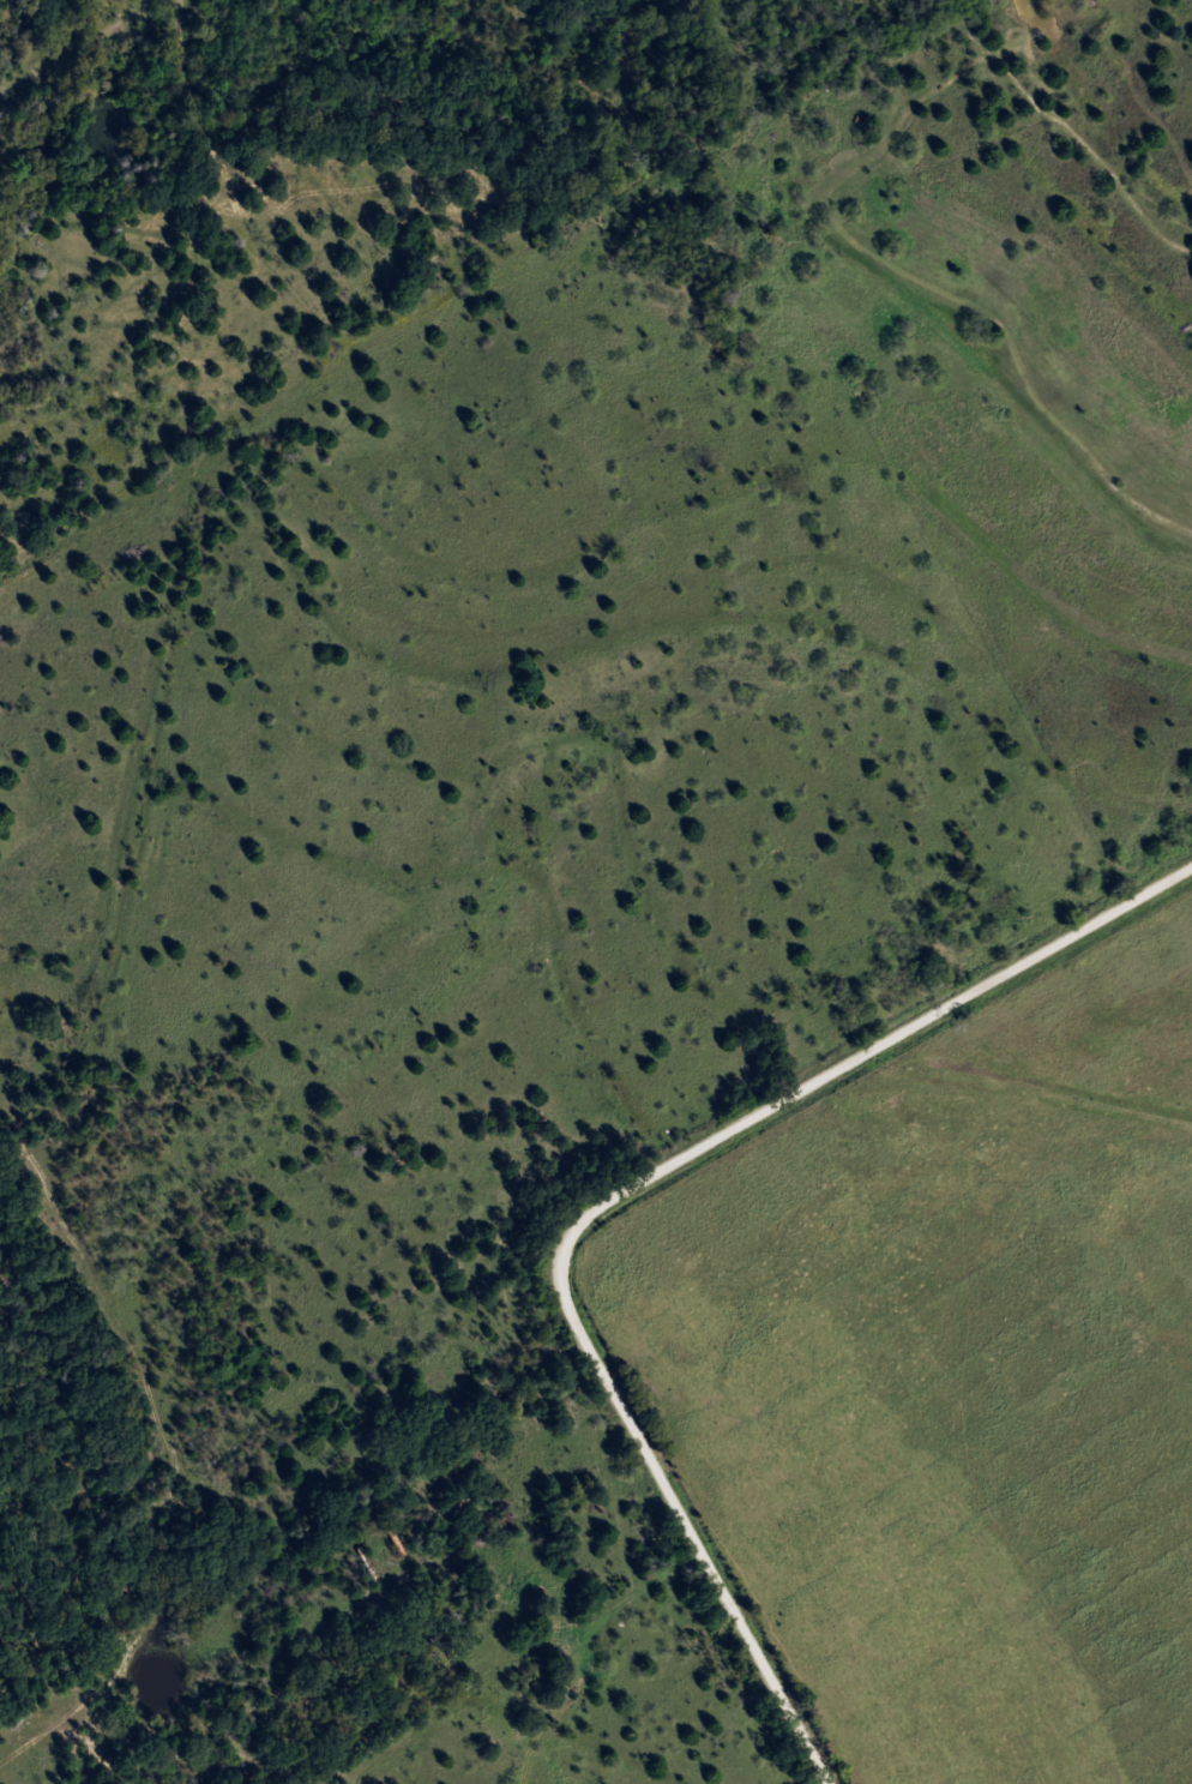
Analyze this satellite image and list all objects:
road: (615, 1203)

